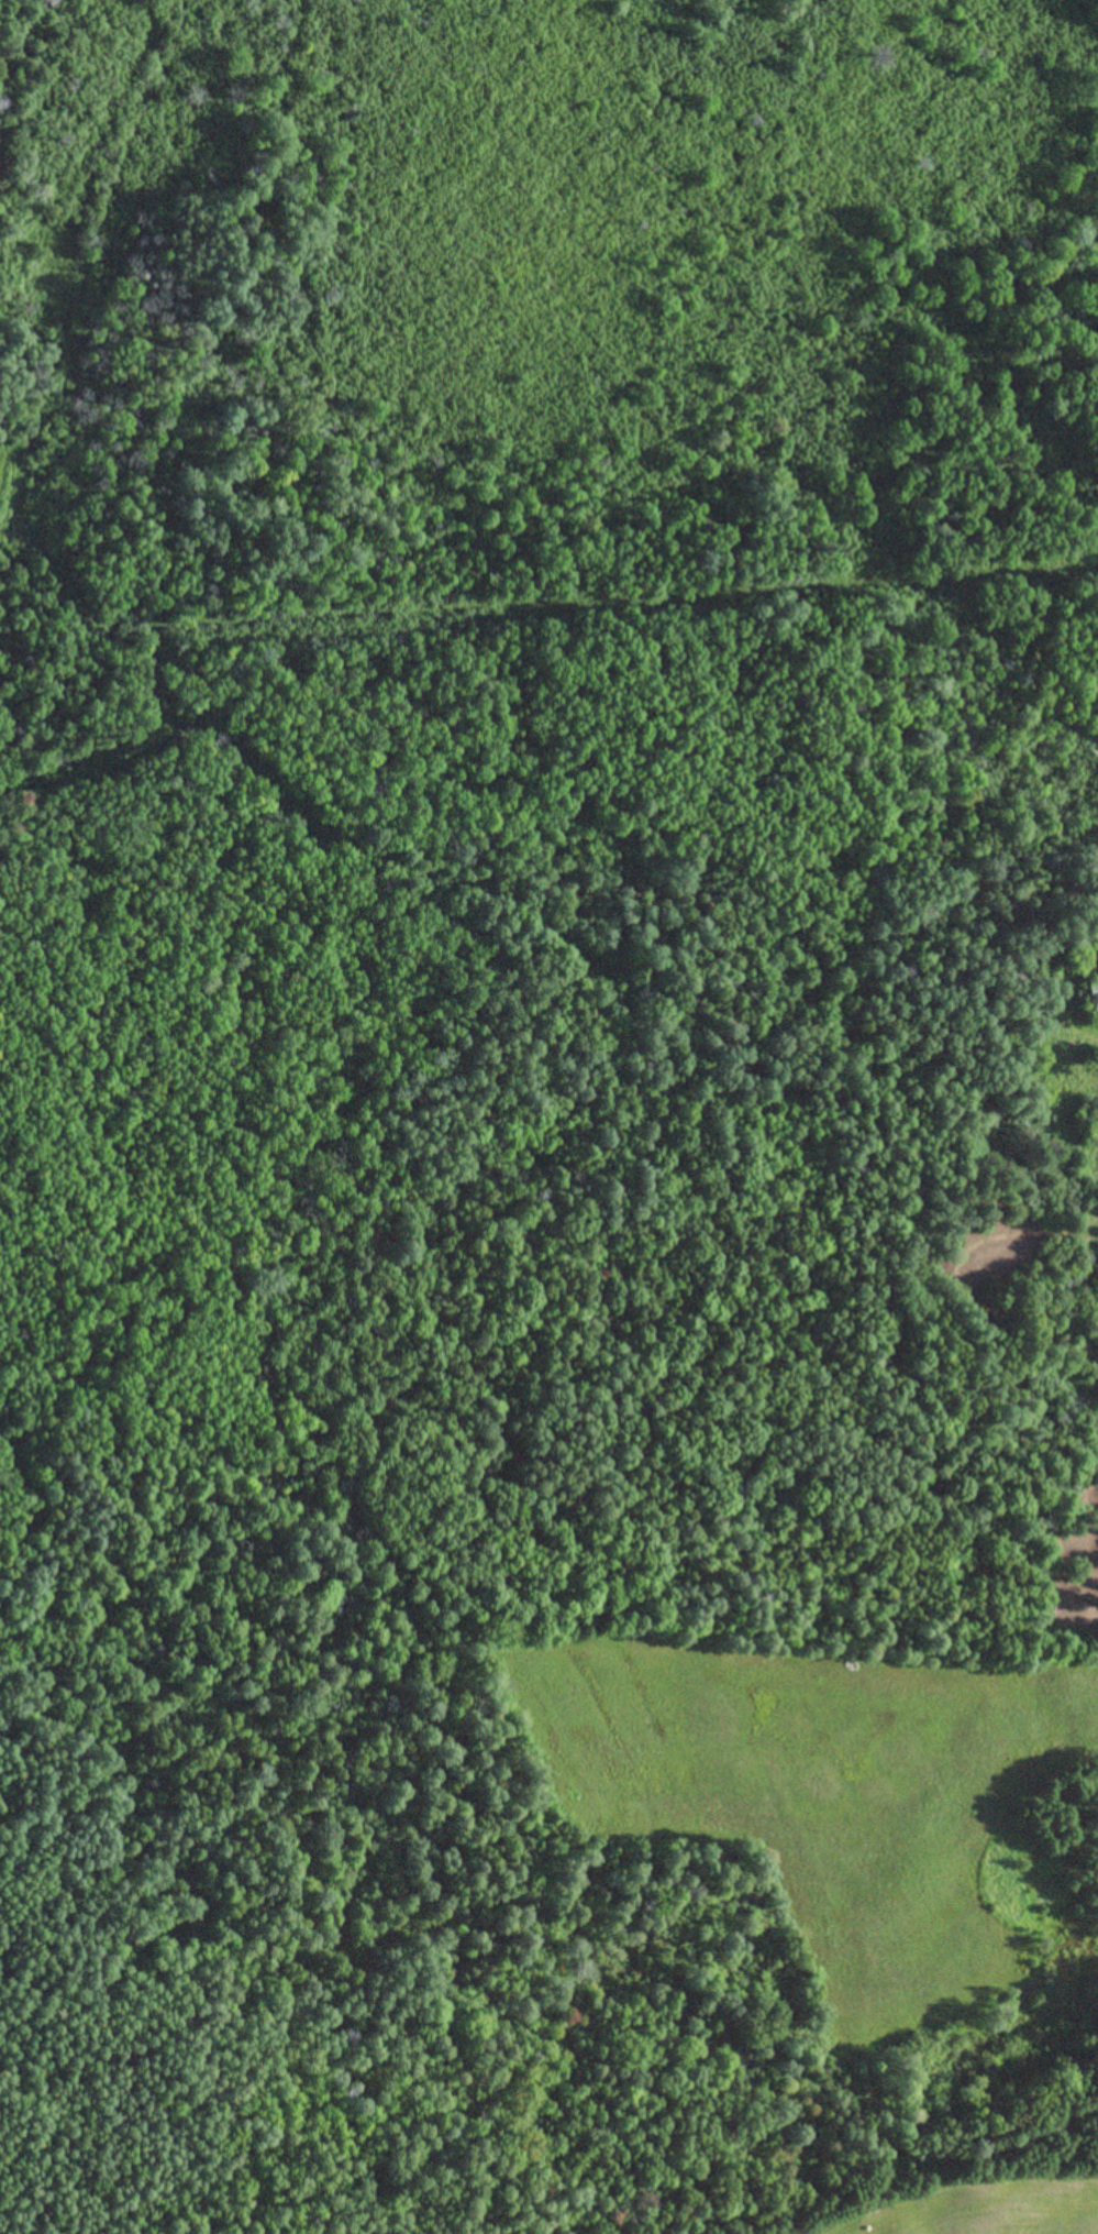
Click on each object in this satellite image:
building: (1094, 1006)

